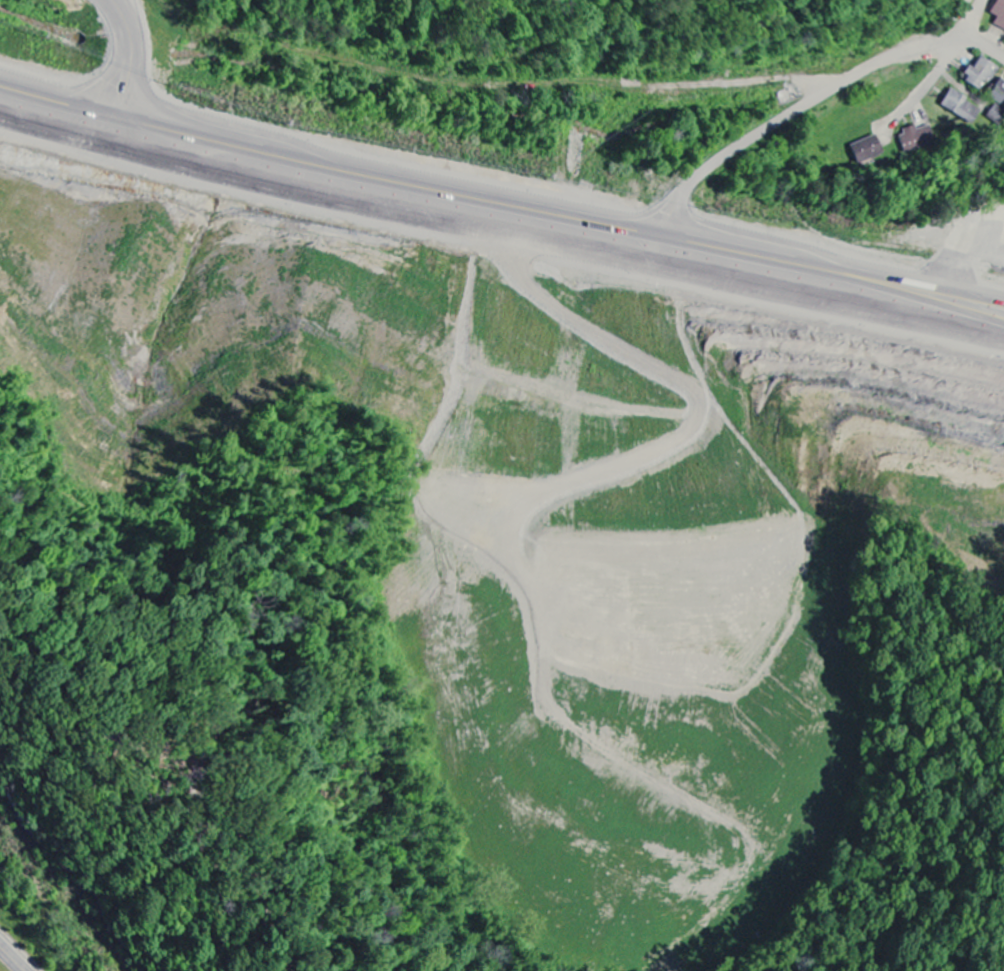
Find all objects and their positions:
building: (977, 0)
building: (999, 13)
road: (968, 20)
road: (978, 40)
road: (124, 54)
building: (980, 74)
building: (998, 104)
building: (961, 108)
road: (792, 112)
road: (134, 113)
building: (916, 139)
building: (867, 150)
road: (636, 216)
road: (13, 959)

